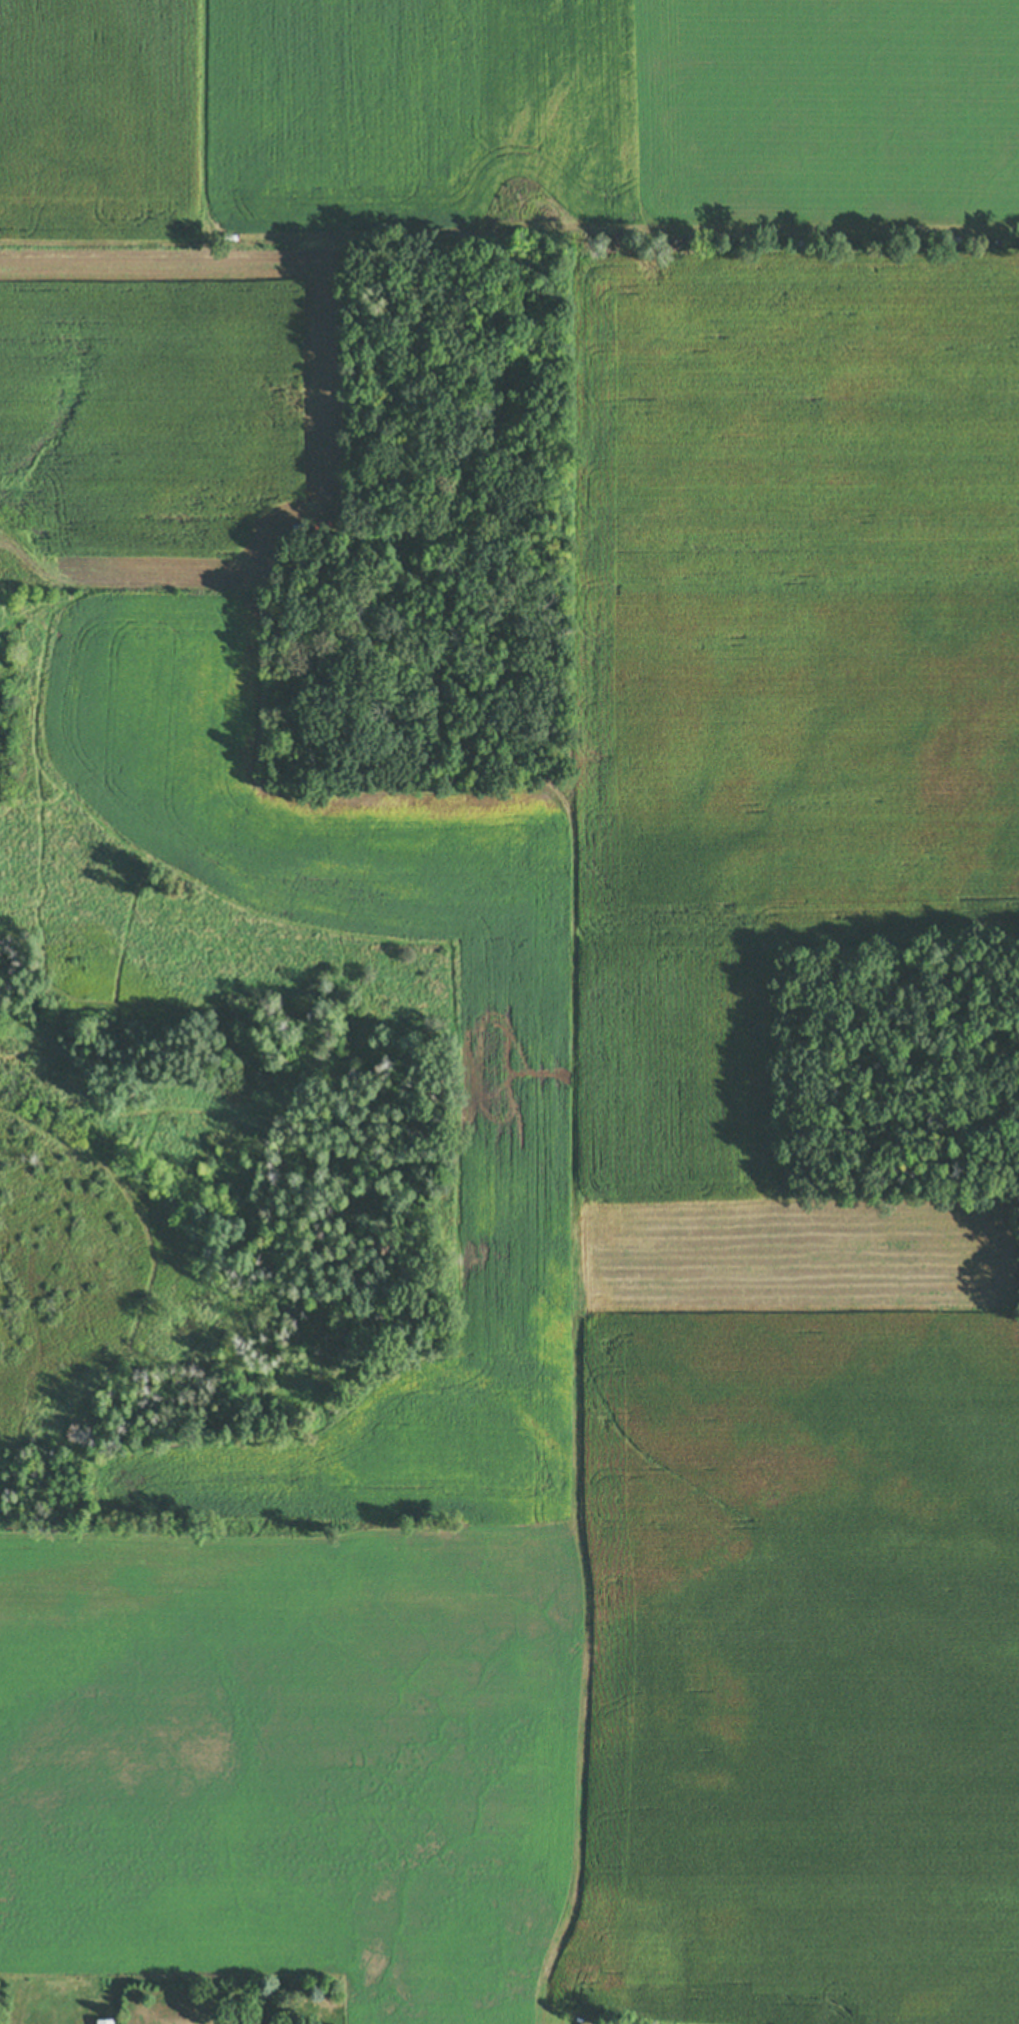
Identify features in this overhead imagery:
building: (59, 1119)
building: (611, 1986)
building: (108, 2021)

